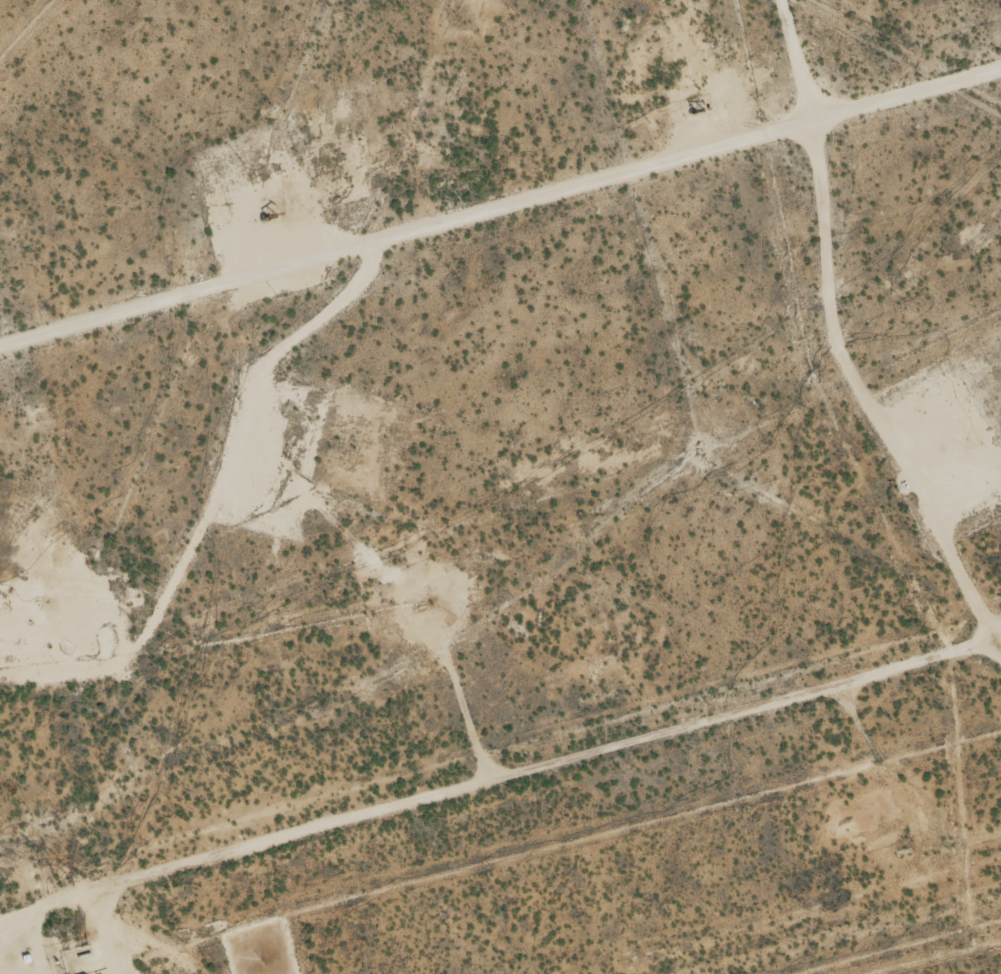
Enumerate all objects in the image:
road: (501, 245)
road: (798, 403)
road: (482, 830)

